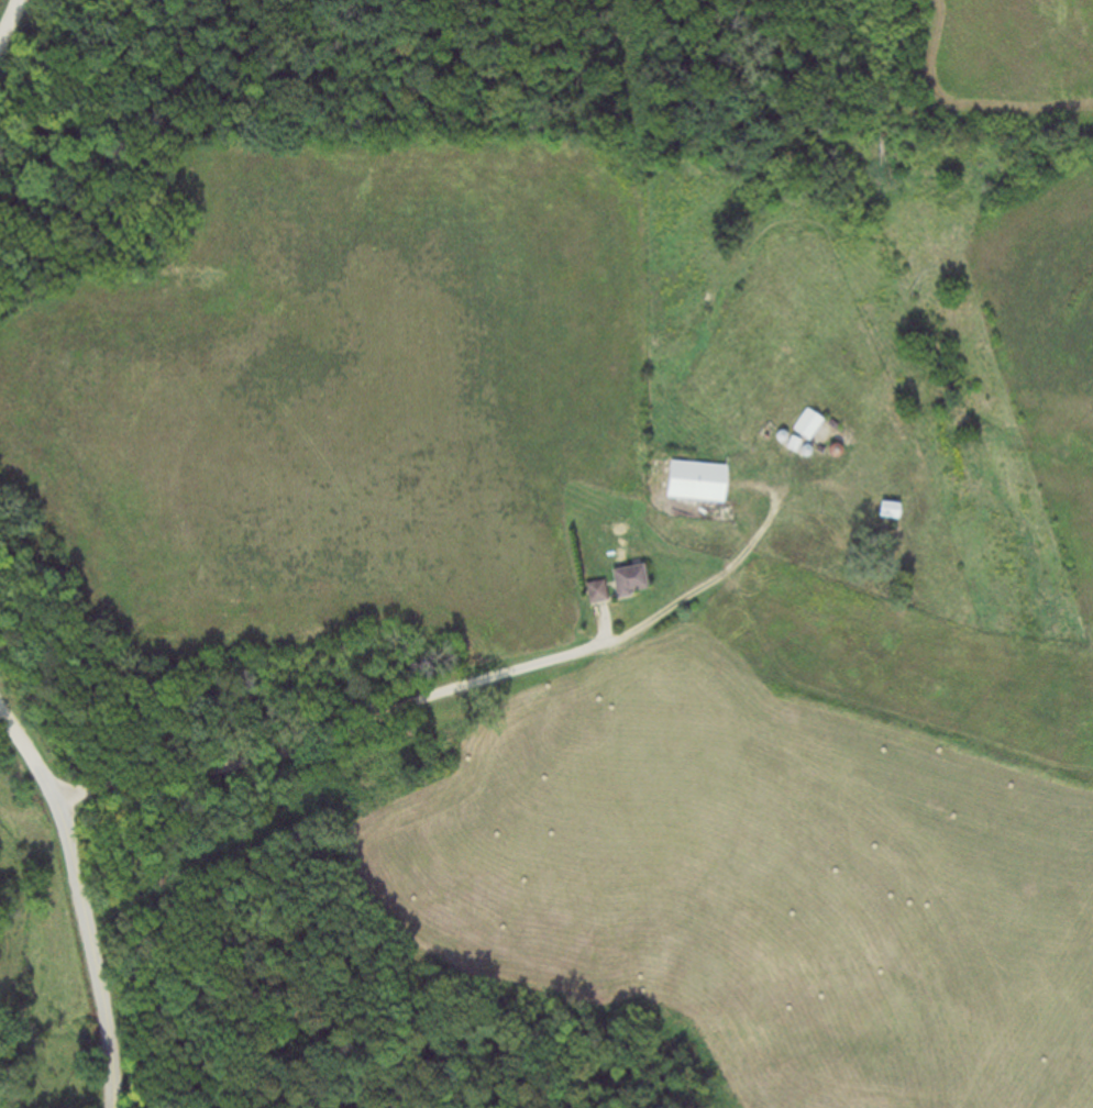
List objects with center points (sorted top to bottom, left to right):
road: (18, 27)
building: (807, 423)
building: (693, 480)
building: (885, 509)
building: (627, 579)
building: (594, 591)
road: (461, 690)
road: (79, 897)

